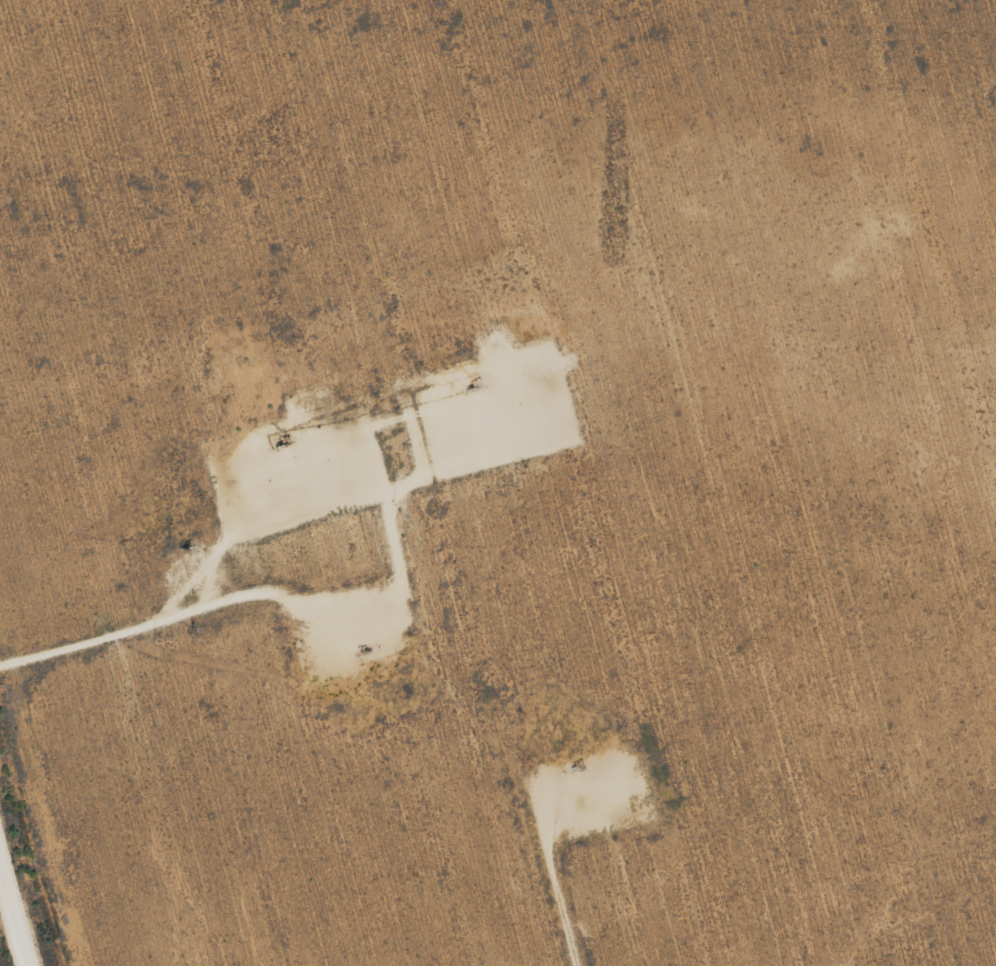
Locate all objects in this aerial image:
road: (14, 911)

